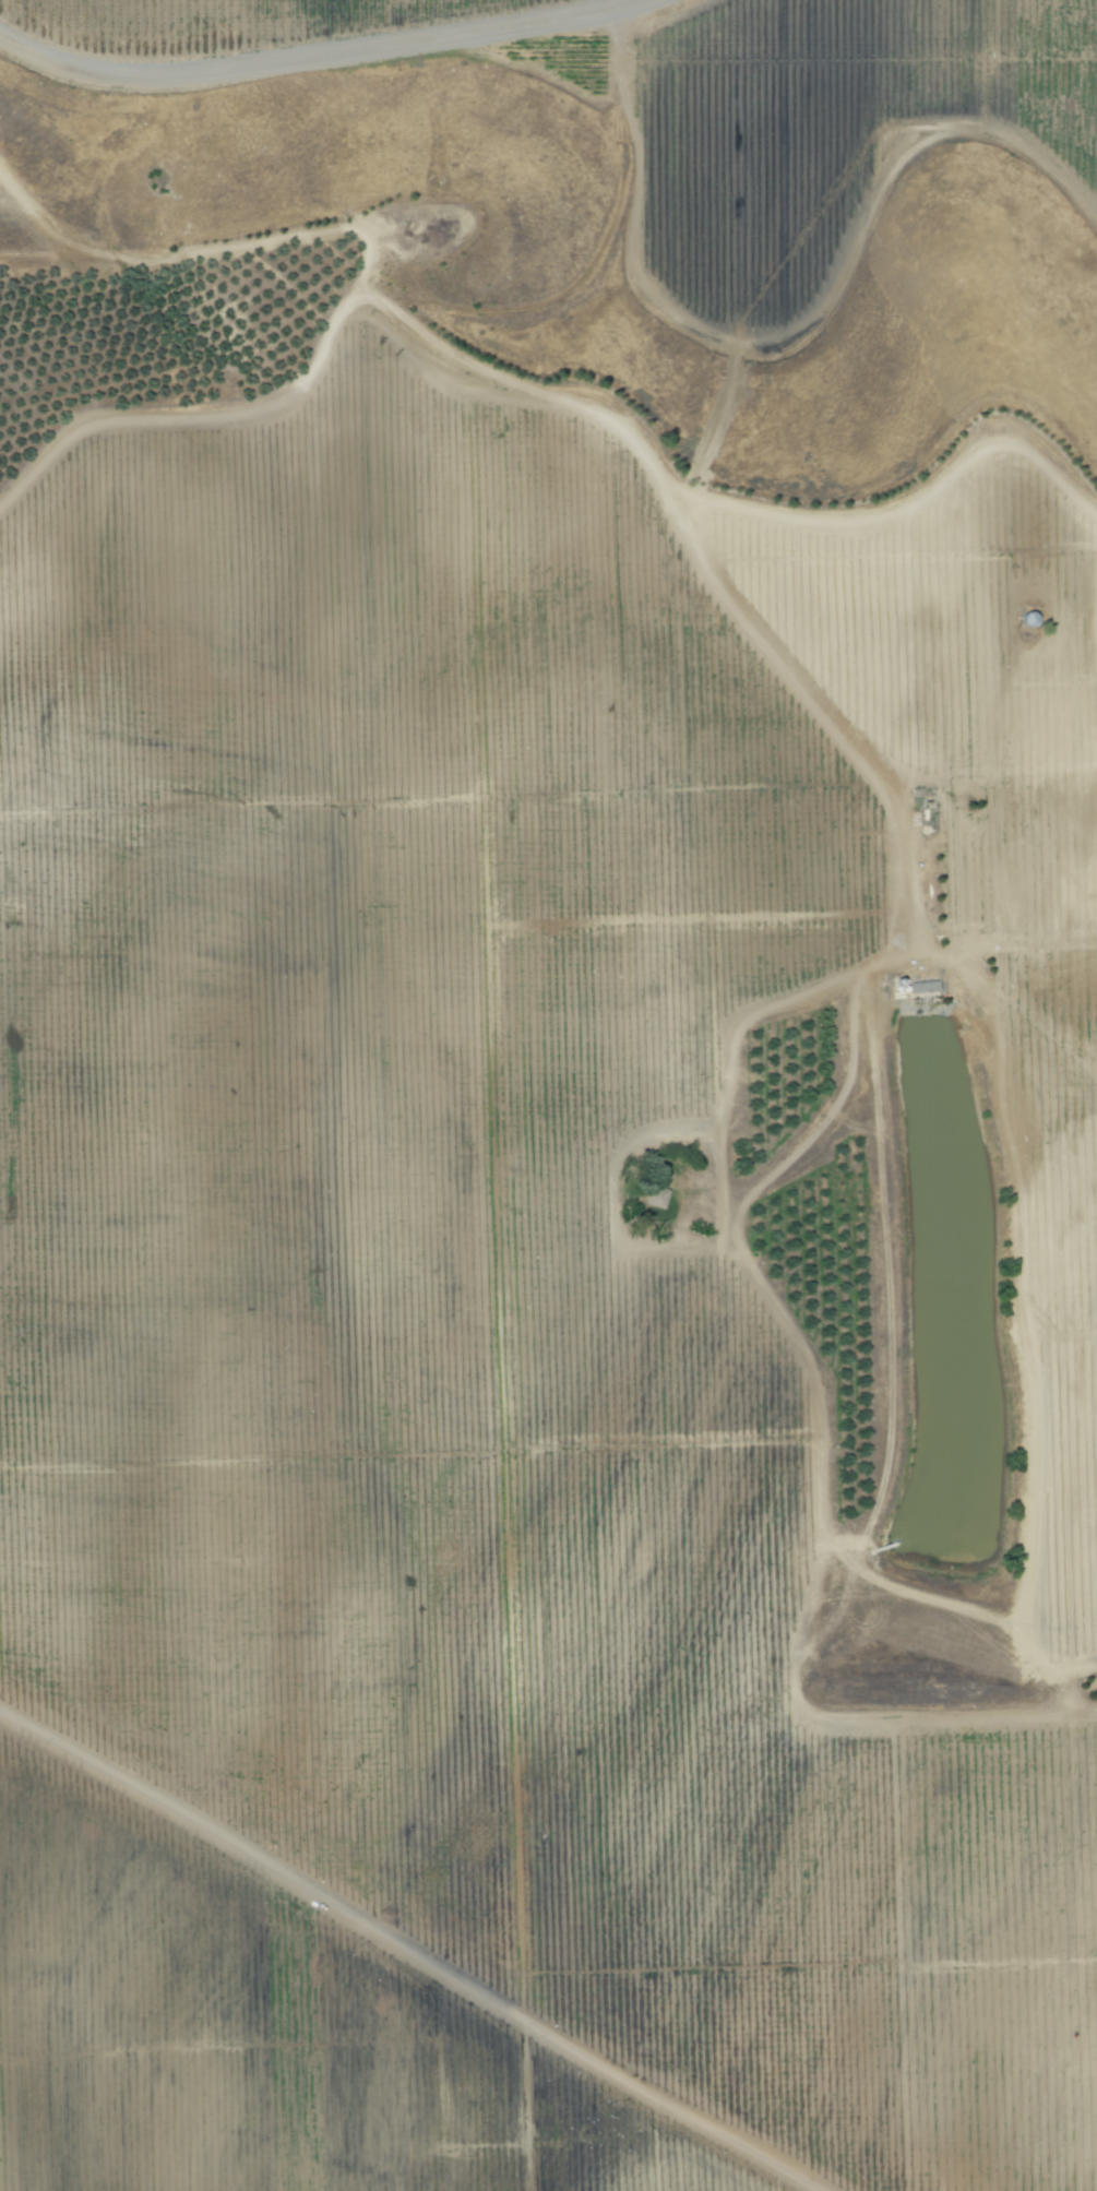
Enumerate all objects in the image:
road: (323, 53)
building: (654, 1198)

